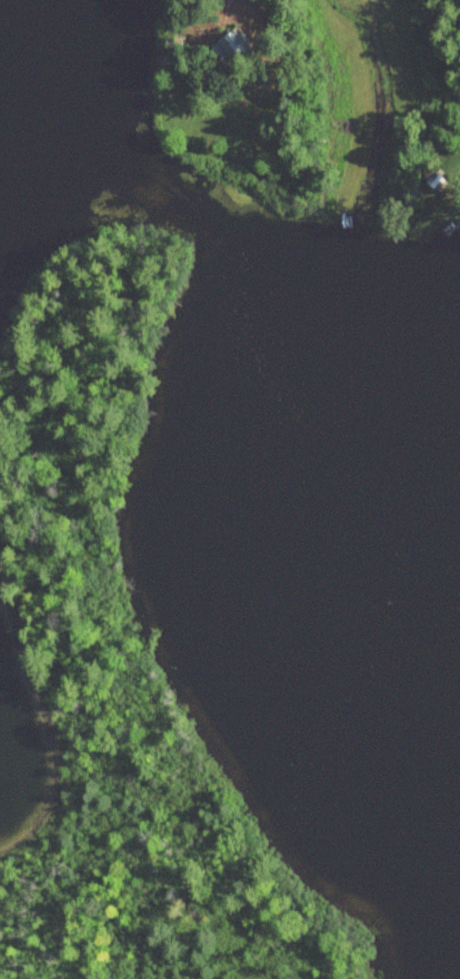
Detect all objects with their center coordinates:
building: (254, 2)
road: (263, 46)

